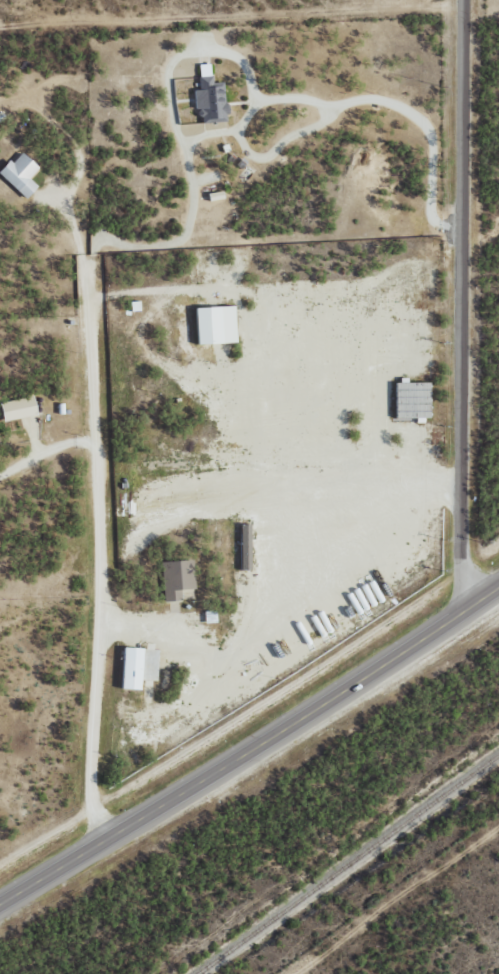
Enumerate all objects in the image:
building: (211, 97)
building: (21, 174)
road: (477, 302)
building: (217, 325)
building: (413, 400)
building: (19, 409)
building: (246, 548)
building: (177, 579)
building: (139, 667)
road: (249, 747)
railway: (345, 861)

